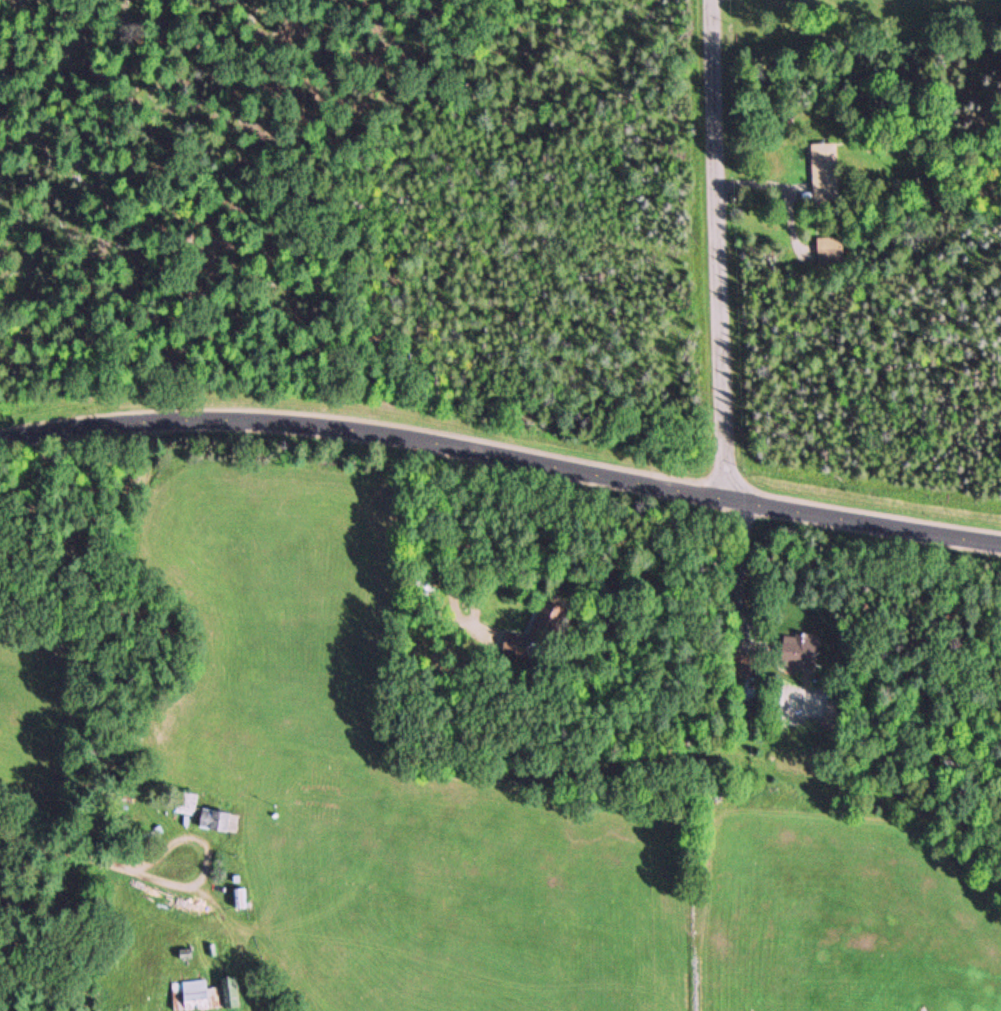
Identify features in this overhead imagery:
building: (825, 163)
road: (717, 247)
road: (501, 452)
building: (188, 803)
building: (220, 819)
road: (66, 847)

